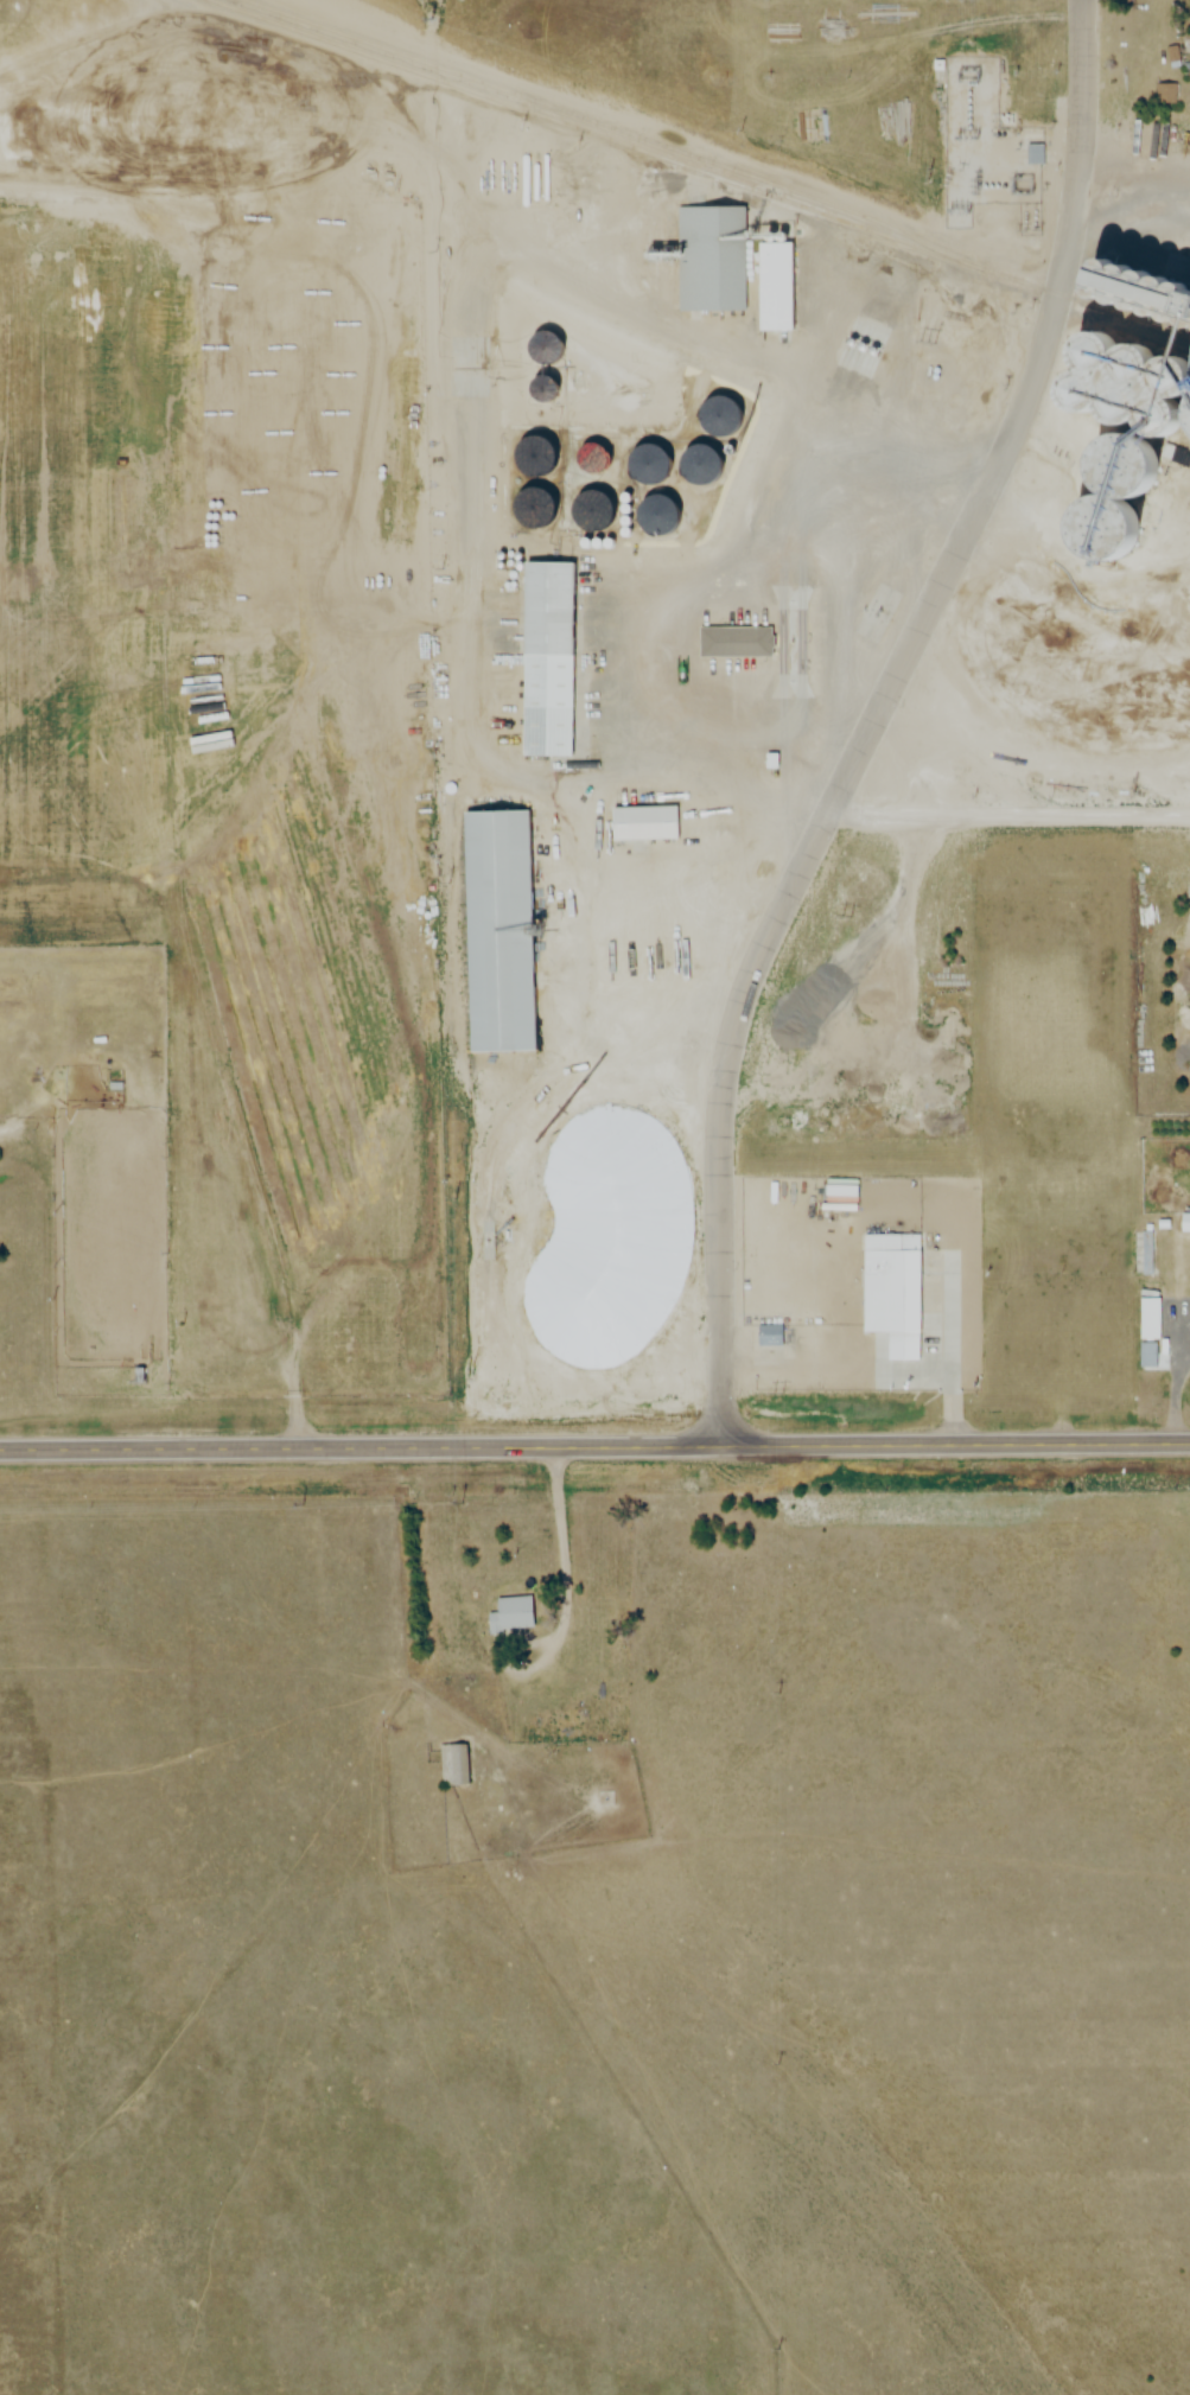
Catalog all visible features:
building: (1164, 95)
railway: (588, 121)
road: (672, 136)
power substation: (987, 136)
road: (1083, 140)
railway: (696, 171)
road: (1134, 181)
building: (709, 257)
building: (772, 286)
building: (585, 460)
building: (524, 511)
building: (585, 515)
building: (542, 609)
building: (731, 642)
building: (638, 822)
road: (1008, 823)
road: (813, 846)
building: (495, 930)
building: (1005, 1222)
building: (1183, 1222)
building: (1071, 1241)
building: (1146, 1253)
building: (895, 1288)
building: (1035, 1340)
building: (1148, 1356)
road: (594, 1447)
road: (566, 1562)
building: (510, 1614)
building: (454, 1765)

